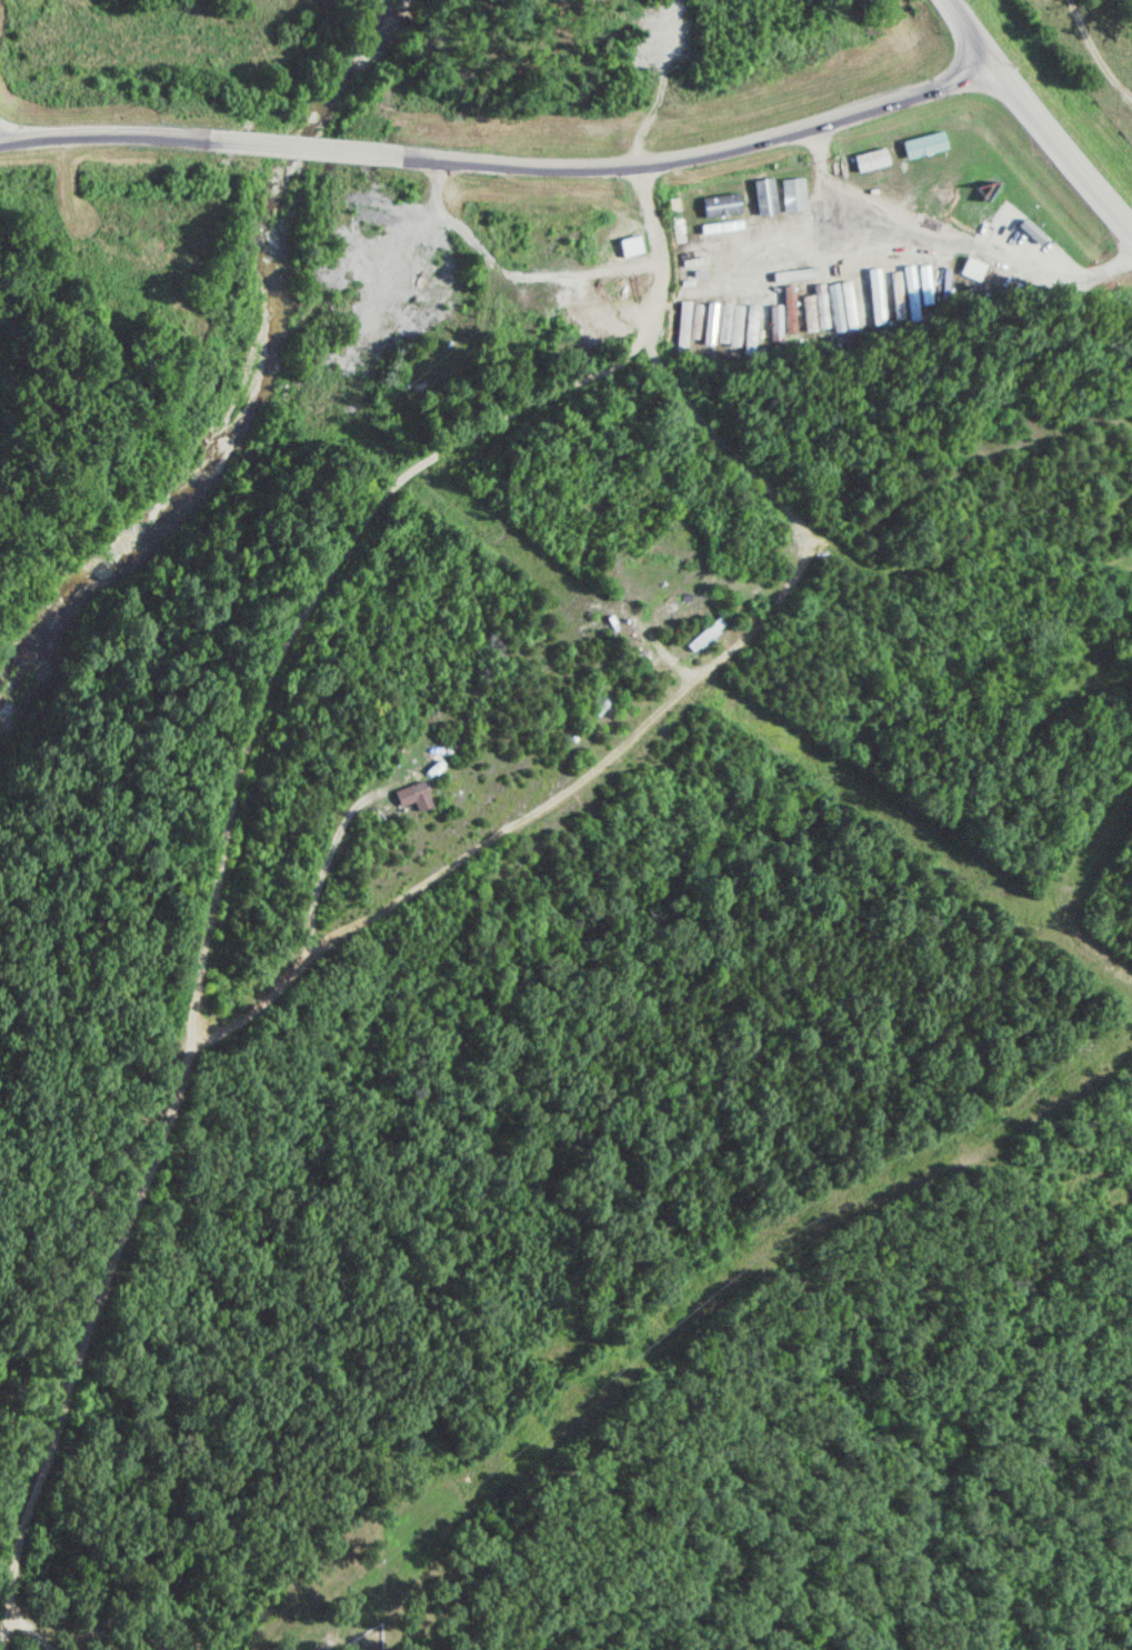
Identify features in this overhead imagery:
road: (1033, 120)
road: (111, 134)
road: (301, 146)
road: (689, 153)
building: (628, 244)
building: (972, 267)
building: (553, 324)
building: (533, 326)
building: (507, 331)
building: (433, 388)
building: (704, 632)
building: (415, 793)

